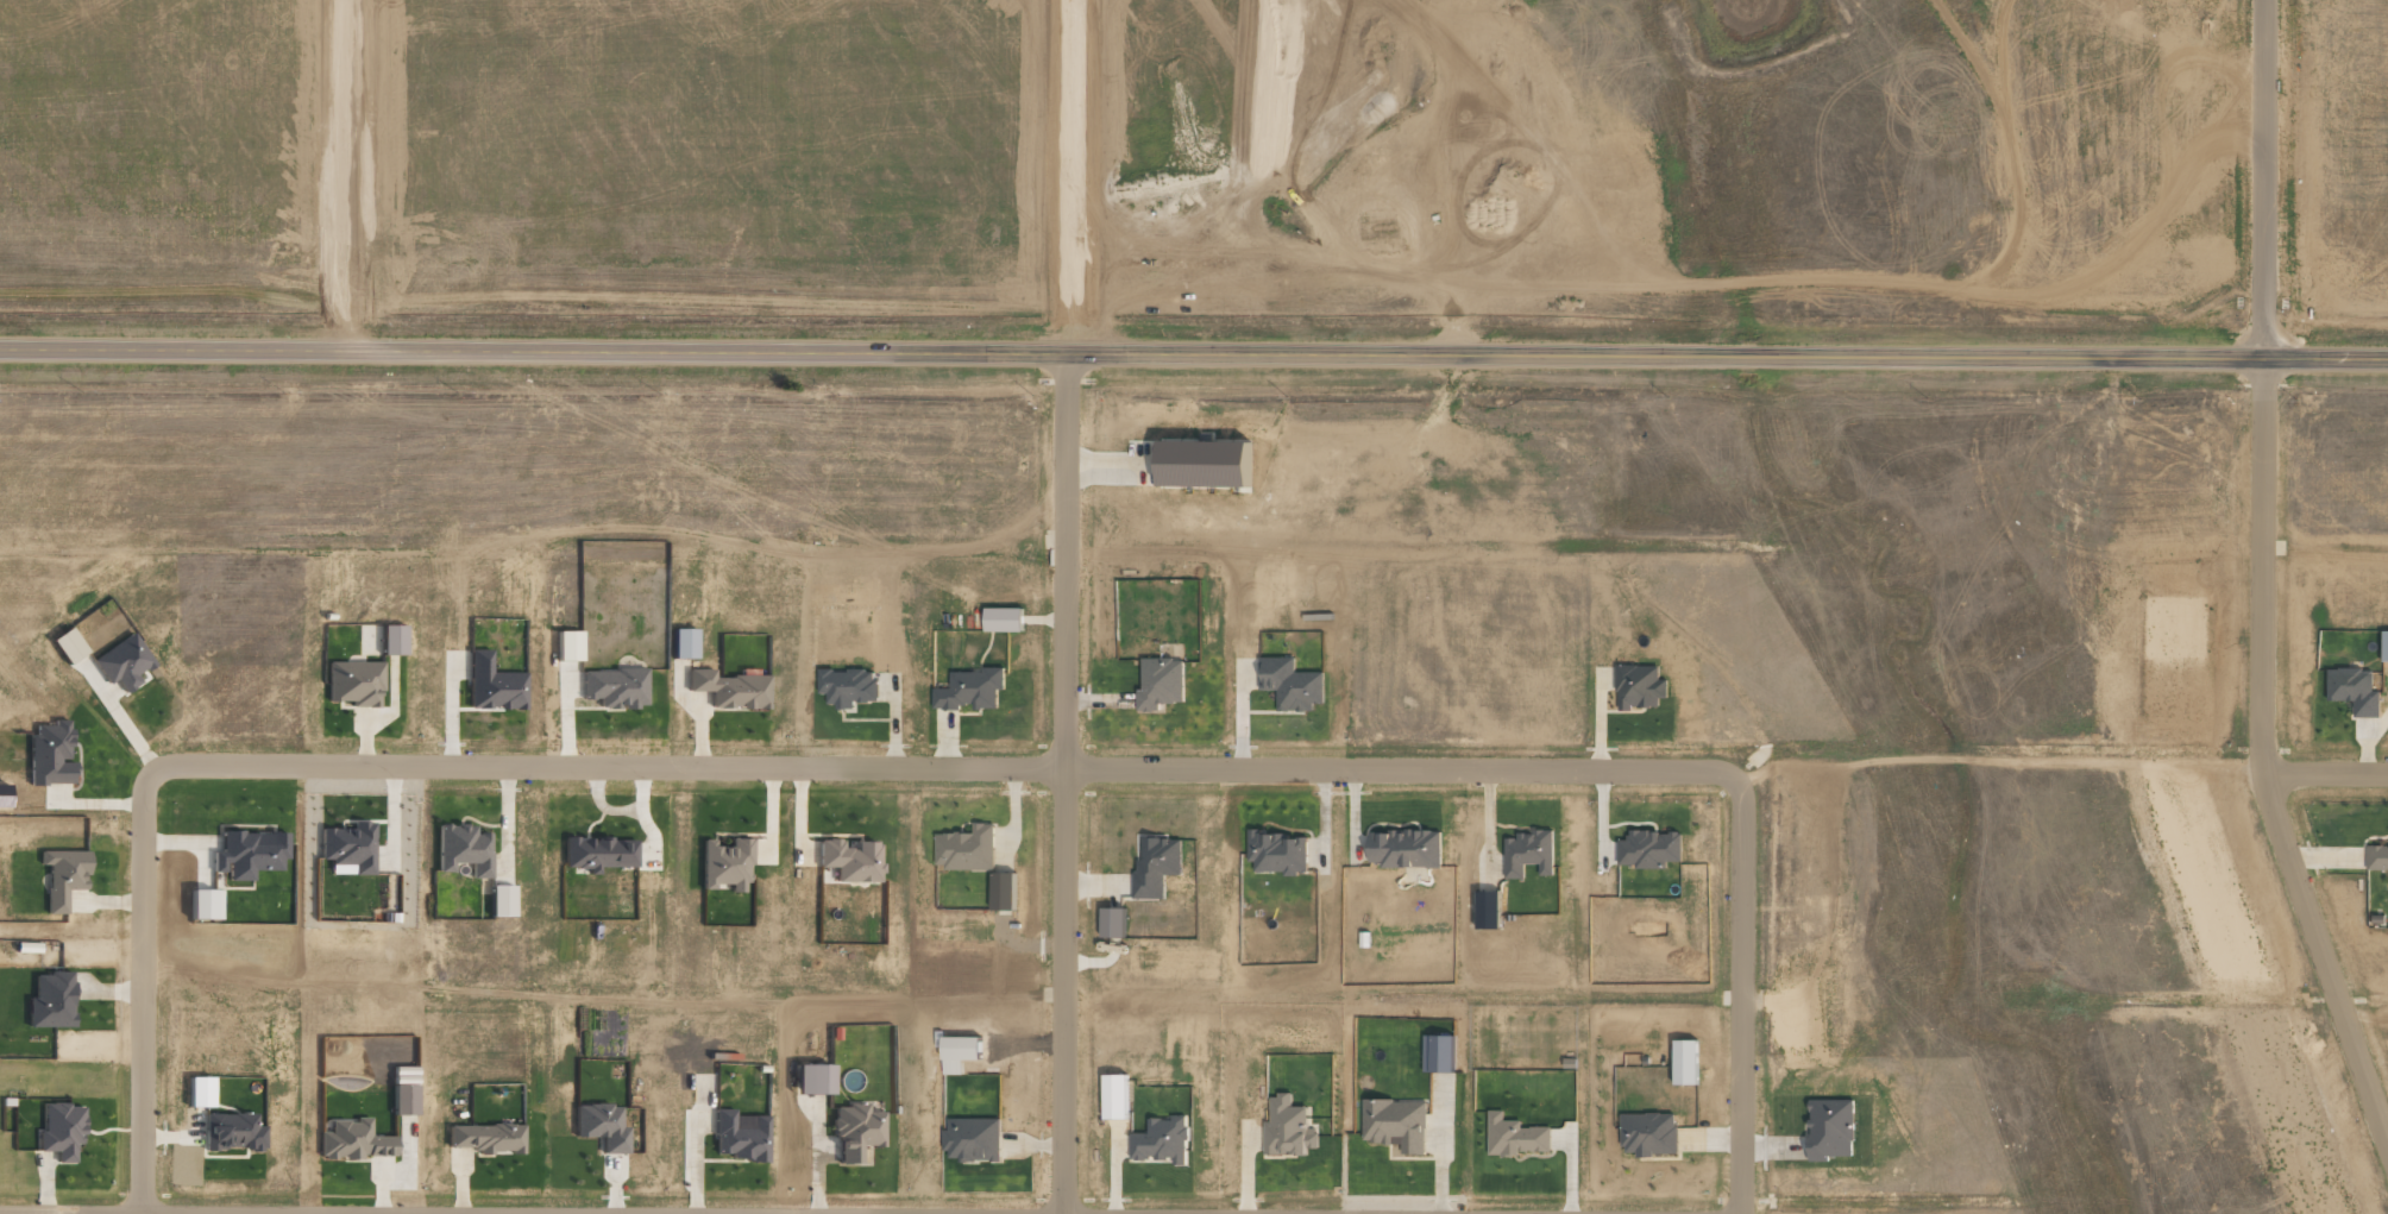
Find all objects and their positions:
road: (350, 175)
road: (1066, 176)
road: (2262, 181)
road: (1194, 353)
building: (1187, 461)
building: (1003, 619)
building: (390, 640)
building: (680, 643)
building: (65, 644)
building: (565, 646)
building: (2384, 646)
building: (121, 662)
building: (354, 683)
building: (1160, 683)
building: (492, 684)
building: (1289, 684)
building: (847, 686)
building: (1639, 686)
building: (614, 687)
building: (728, 688)
building: (970, 690)
building: (2354, 690)
building: (49, 754)
road: (944, 767)
road: (2261, 767)
road: (2325, 770)
road: (1063, 782)
building: (348, 847)
building: (964, 848)
building: (1404, 848)
building: (1648, 848)
building: (461, 849)
building: (1277, 851)
building: (597, 853)
building: (1528, 853)
building: (247, 854)
building: (2377, 856)
building: (849, 860)
building: (724, 864)
building: (1155, 864)
building: (62, 875)
building: (1001, 891)
building: (498, 900)
building: (202, 904)
building: (1111, 921)
road: (142, 990)
road: (1737, 999)
building: (49, 1001)
building: (1438, 1053)
building: (1684, 1062)
building: (809, 1078)
building: (197, 1092)
building: (1113, 1096)
building: (402, 1100)
building: (1395, 1124)
building: (599, 1126)
building: (1288, 1128)
building: (1829, 1128)
building: (61, 1131)
building: (855, 1131)
building: (232, 1132)
building: (1648, 1133)
building: (1515, 1136)
building: (739, 1137)
building: (486, 1138)
building: (972, 1139)
building: (352, 1140)
building: (1161, 1140)

